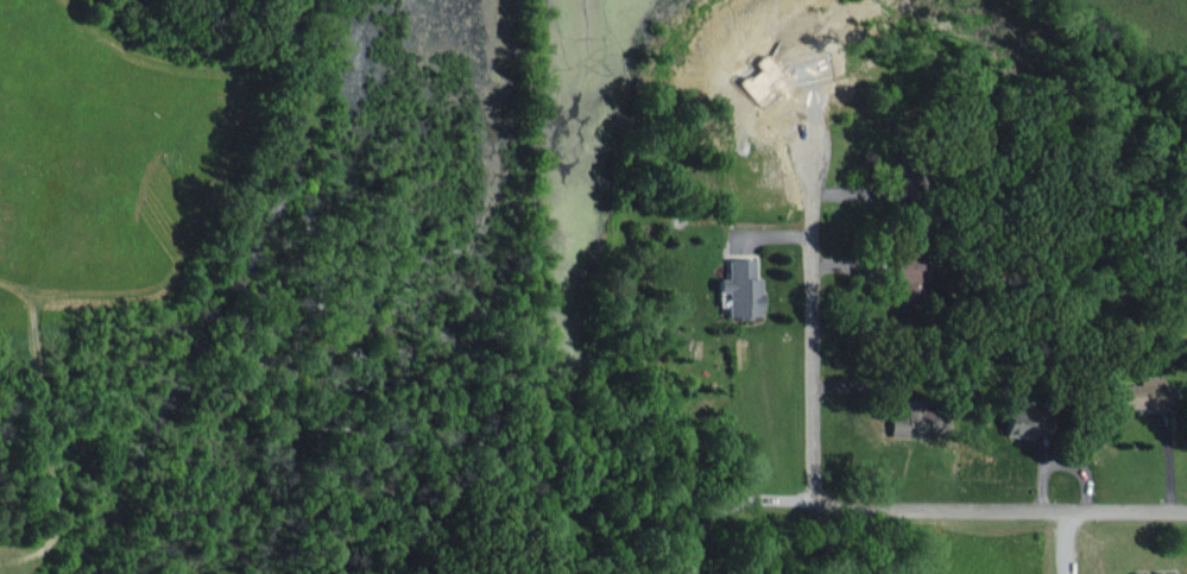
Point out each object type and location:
building: (905, 273)
building: (737, 286)
road: (808, 330)
building: (1139, 392)
building: (1016, 422)
road: (727, 505)
road: (999, 510)
road: (1068, 542)
building: (1155, 573)

